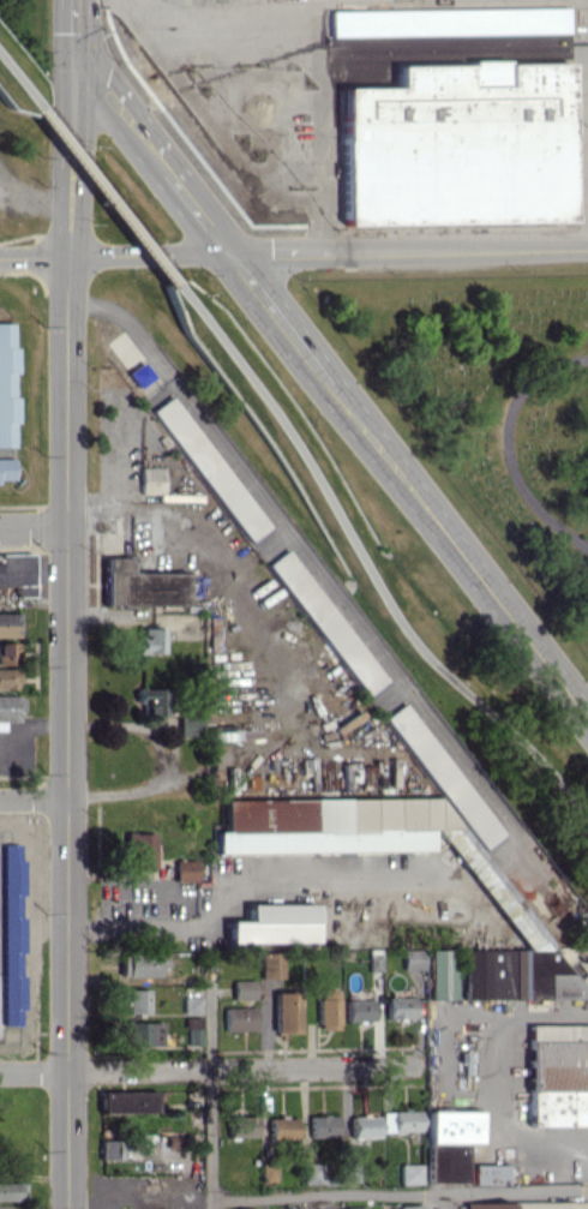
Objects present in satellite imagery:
traffic signals: (74, 42)
road: (16, 85)
building: (458, 145)
road: (102, 194)
road: (35, 197)
road: (293, 251)
road: (330, 381)
building: (6, 385)
park: (491, 402)
road: (506, 445)
building: (5, 467)
building: (209, 468)
building: (150, 479)
road: (34, 525)
road: (211, 544)
road: (362, 564)
building: (16, 571)
road: (319, 574)
building: (140, 585)
road: (66, 604)
building: (325, 621)
building: (150, 640)
building: (8, 653)
building: (7, 678)
building: (150, 700)
building: (8, 707)
building: (190, 725)
road: (164, 762)
building: (443, 774)
road: (32, 797)
building: (336, 825)
building: (138, 850)
building: (184, 869)
road: (229, 891)
building: (11, 908)
building: (272, 923)
building: (412, 958)
building: (270, 962)
building: (138, 964)
building: (515, 974)
building: (443, 981)
building: (136, 1000)
building: (192, 1005)
building: (398, 1006)
building: (326, 1009)
building: (358, 1010)
building: (286, 1012)
building: (240, 1018)
building: (143, 1033)
road: (208, 1069)
road: (512, 1073)
building: (558, 1075)
road: (211, 1094)
building: (127, 1101)
building: (398, 1120)
building: (241, 1125)
building: (323, 1125)
building: (364, 1126)
building: (282, 1127)
building: (450, 1143)
building: (112, 1149)
building: (312, 1172)
building: (410, 1173)
building: (487, 1174)
building: (12, 1191)
road: (398, 1191)
building: (551, 1204)
building: (485, 1205)
building: (355, 1207)
building: (409, 1207)
building: (257, 1208)

